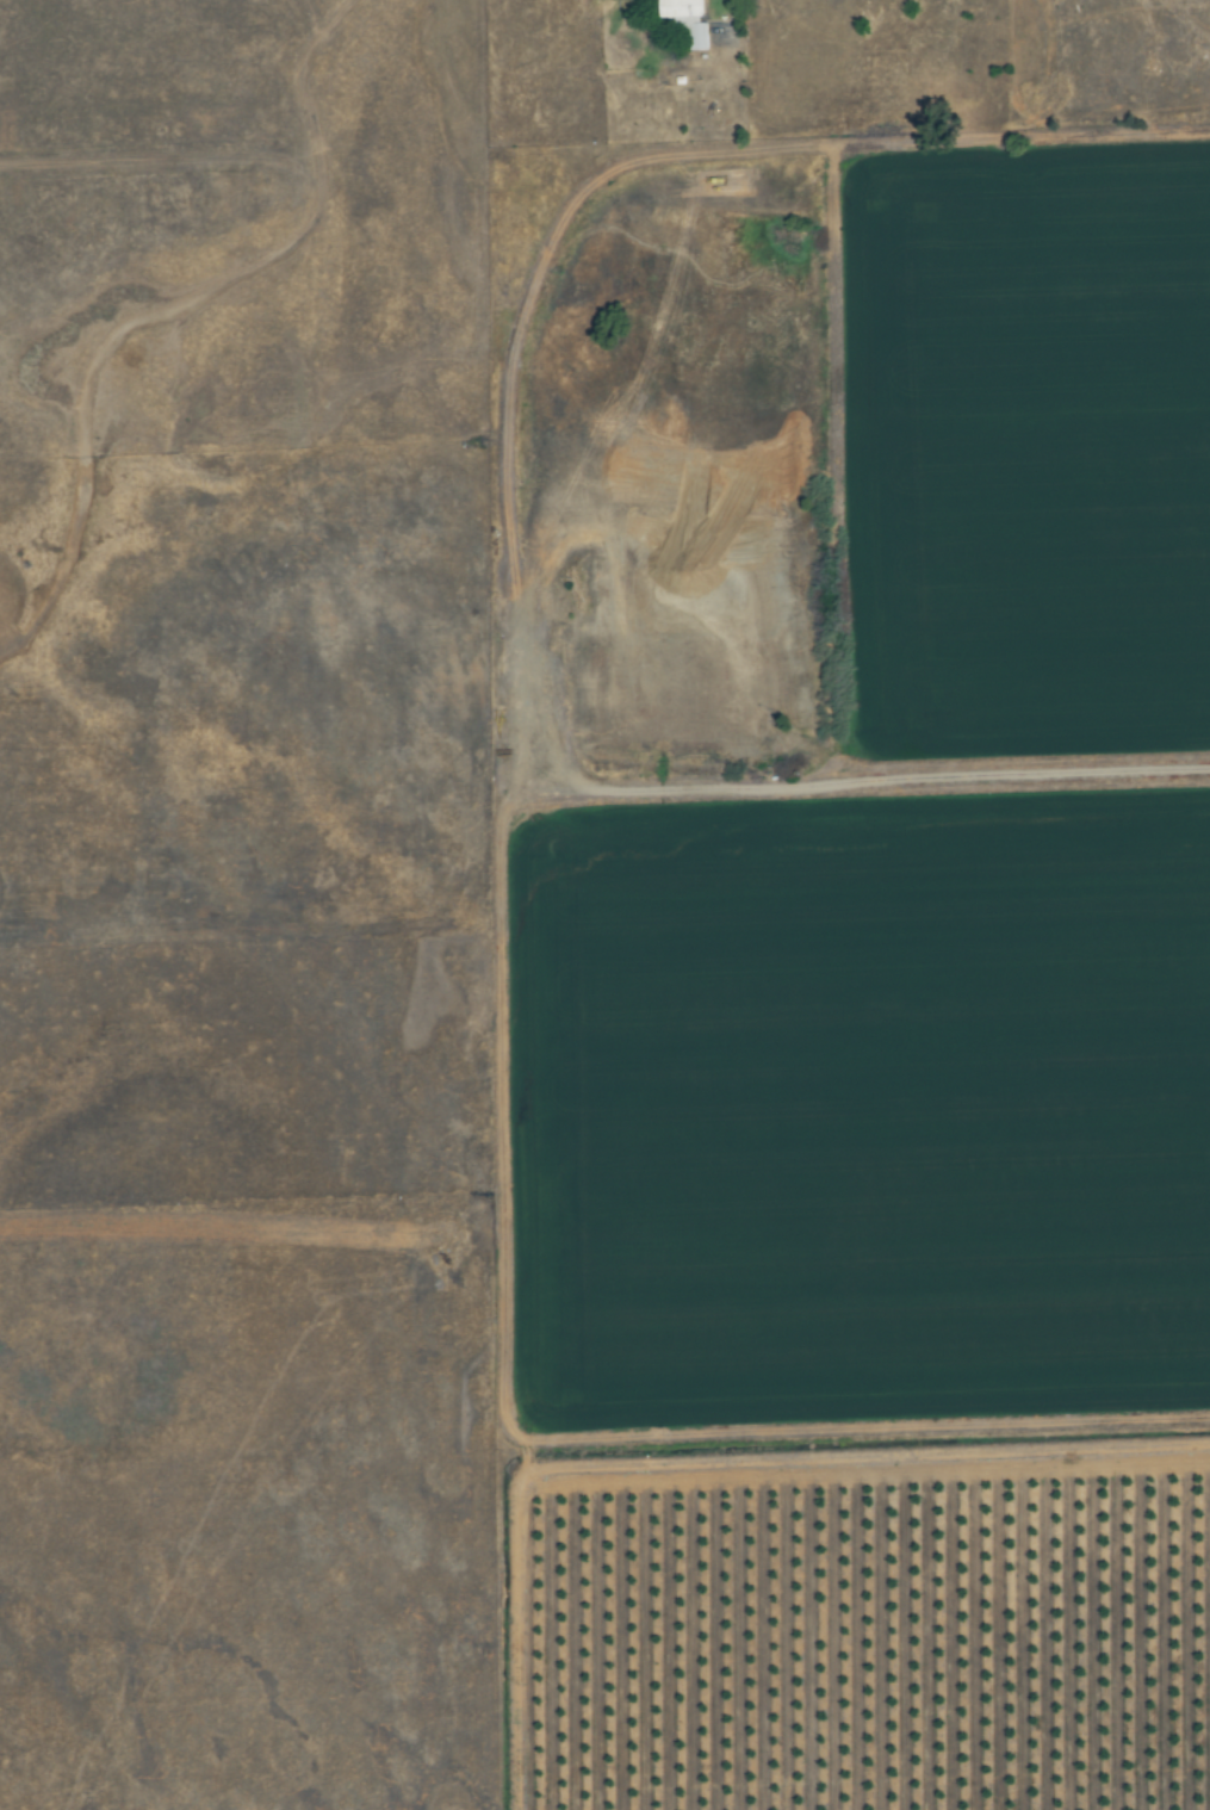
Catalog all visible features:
building: (688, 20)

